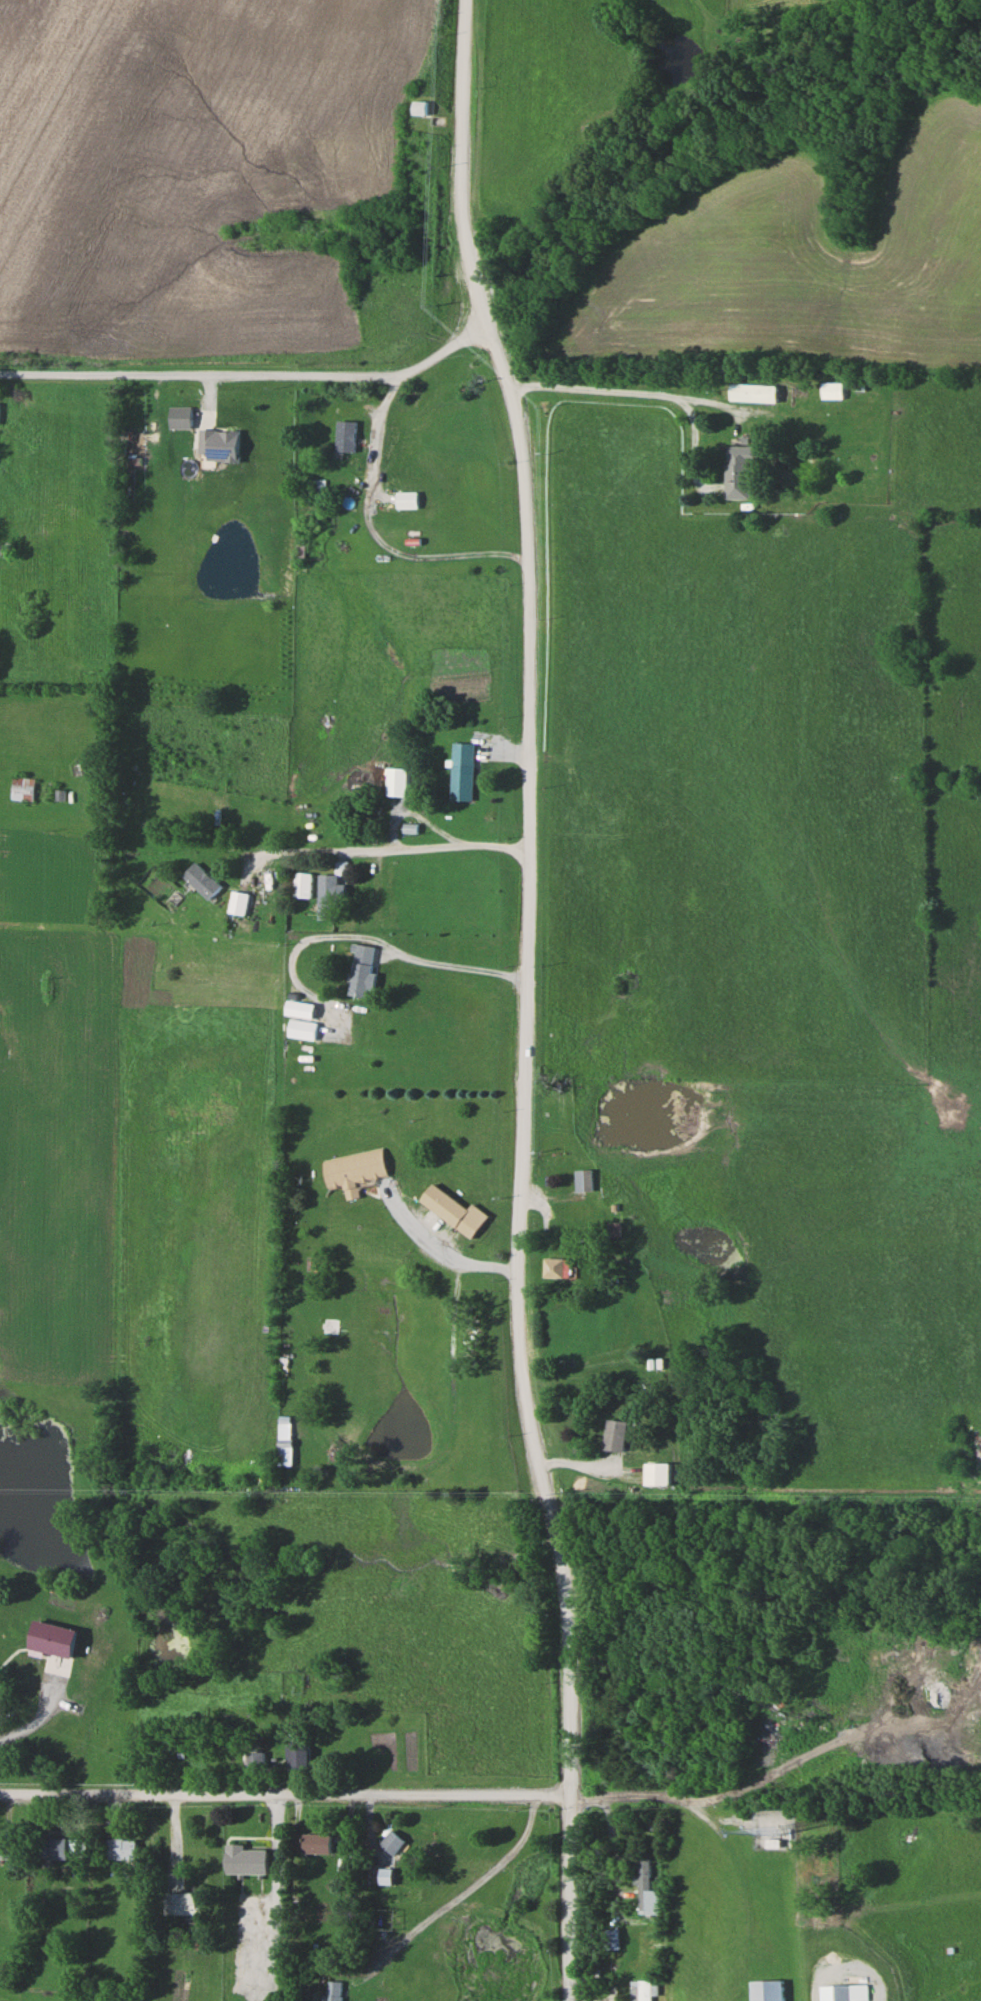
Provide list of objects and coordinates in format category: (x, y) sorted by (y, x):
building: (420, 107)
crop: (188, 162)
crop: (797, 263)
road: (250, 377)
building: (832, 389)
road: (589, 390)
building: (761, 392)
road: (378, 425)
building: (344, 436)
building: (218, 445)
building: (738, 472)
building: (316, 487)
building: (405, 500)
building: (462, 772)
building: (398, 782)
building: (22, 788)
road: (402, 847)
building: (204, 881)
building: (304, 885)
building: (331, 896)
road: (526, 897)
building: (240, 904)
road: (335, 928)
road: (46, 940)
road: (375, 940)
building: (363, 971)
building: (303, 1028)
building: (355, 1168)
building: (584, 1179)
building: (455, 1210)
building: (614, 1229)
road: (437, 1255)
building: (558, 1266)
building: (286, 1430)
building: (617, 1434)
building: (660, 1473)
building: (299, 1755)
building: (256, 1760)
road: (284, 1794)
road: (722, 1835)
building: (393, 1841)
building: (318, 1842)
building: (60, 1847)
building: (5, 1848)
building: (122, 1848)
building: (247, 1860)
building: (387, 1876)
building: (647, 1888)
road: (460, 1893)
road: (565, 1898)
building: (182, 1903)
building: (613, 1938)
building: (334, 1990)
building: (642, 1990)
building: (768, 1990)
building: (845, 1992)

